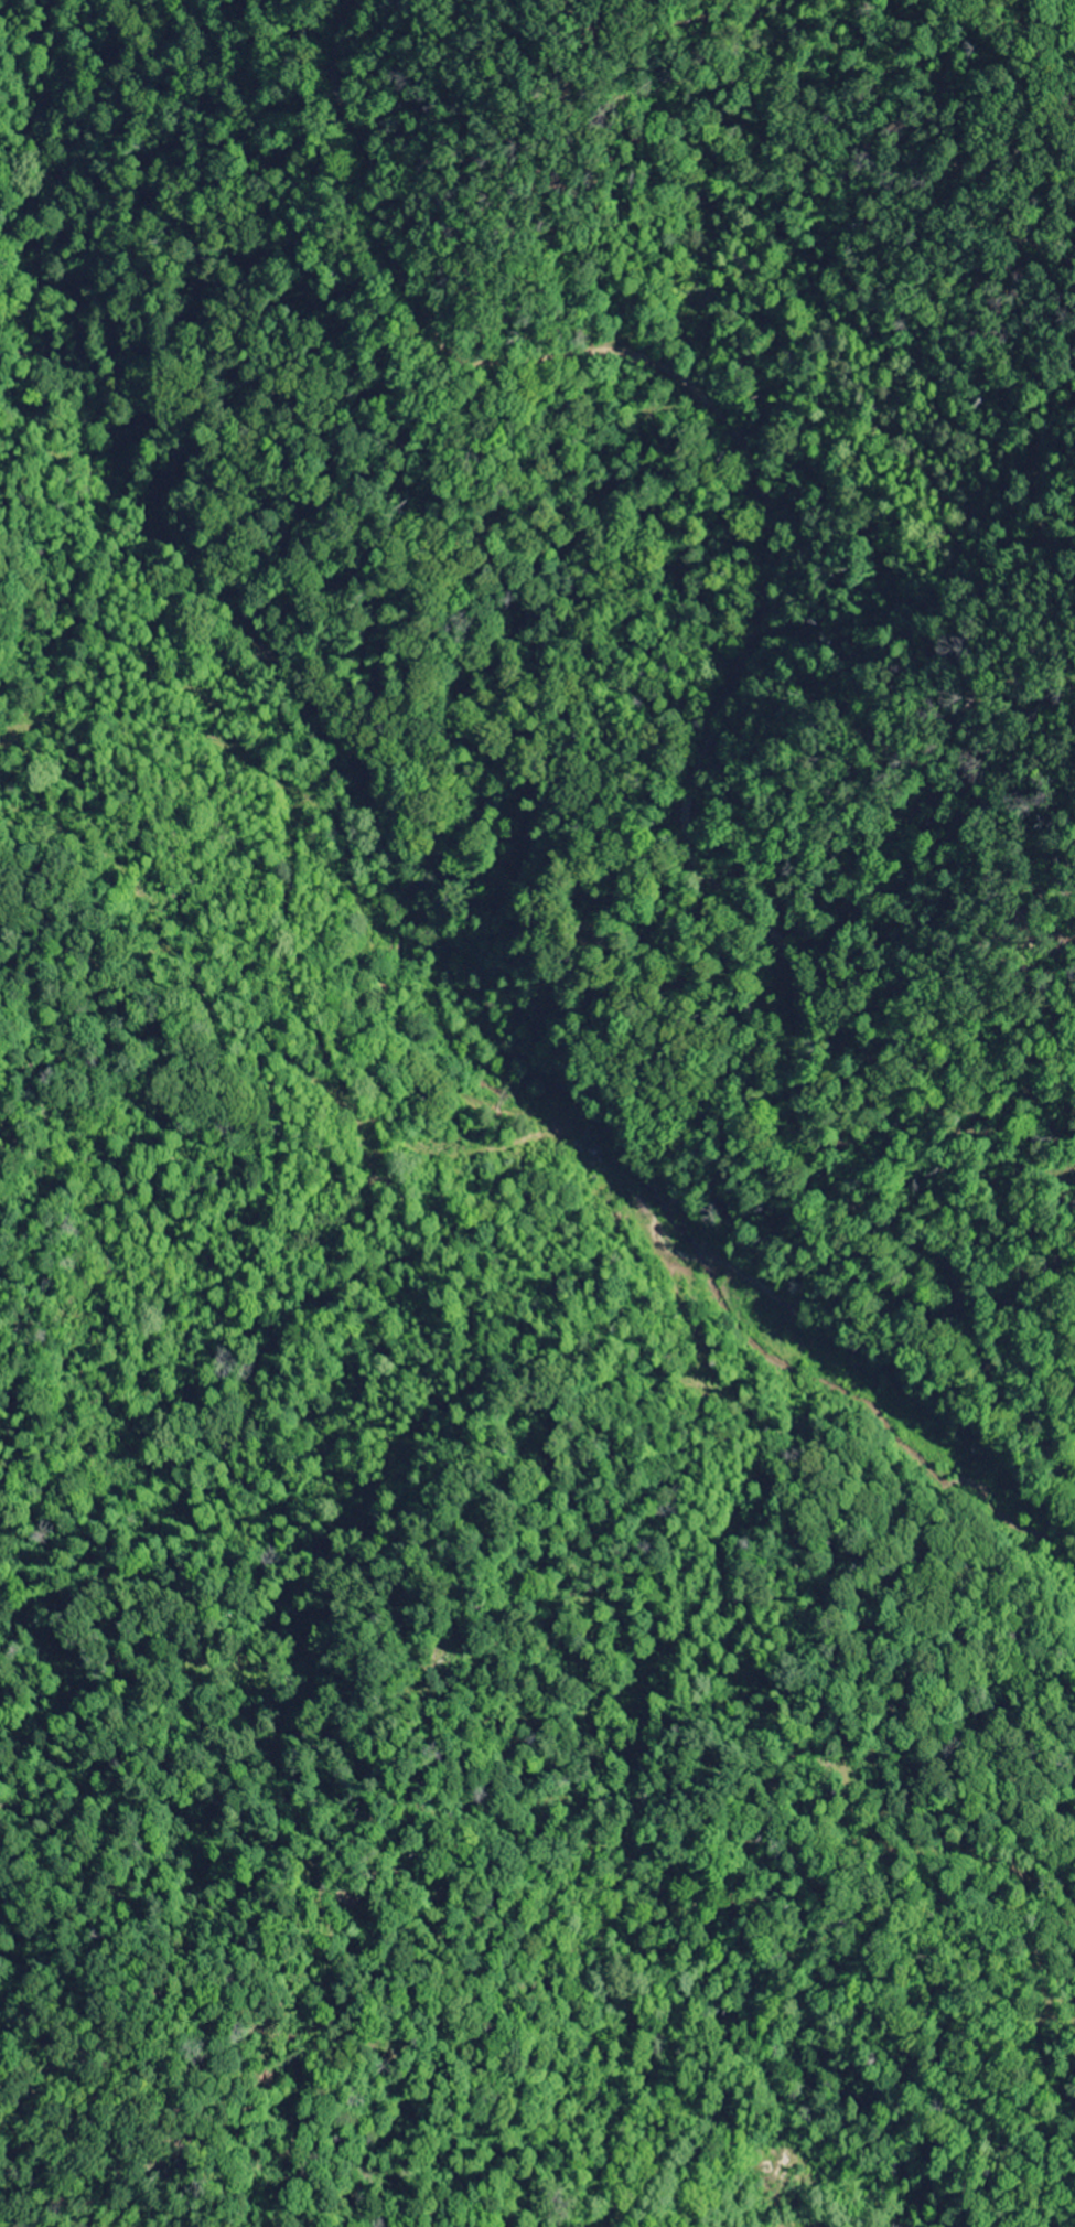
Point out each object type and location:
road: (656, 703)

